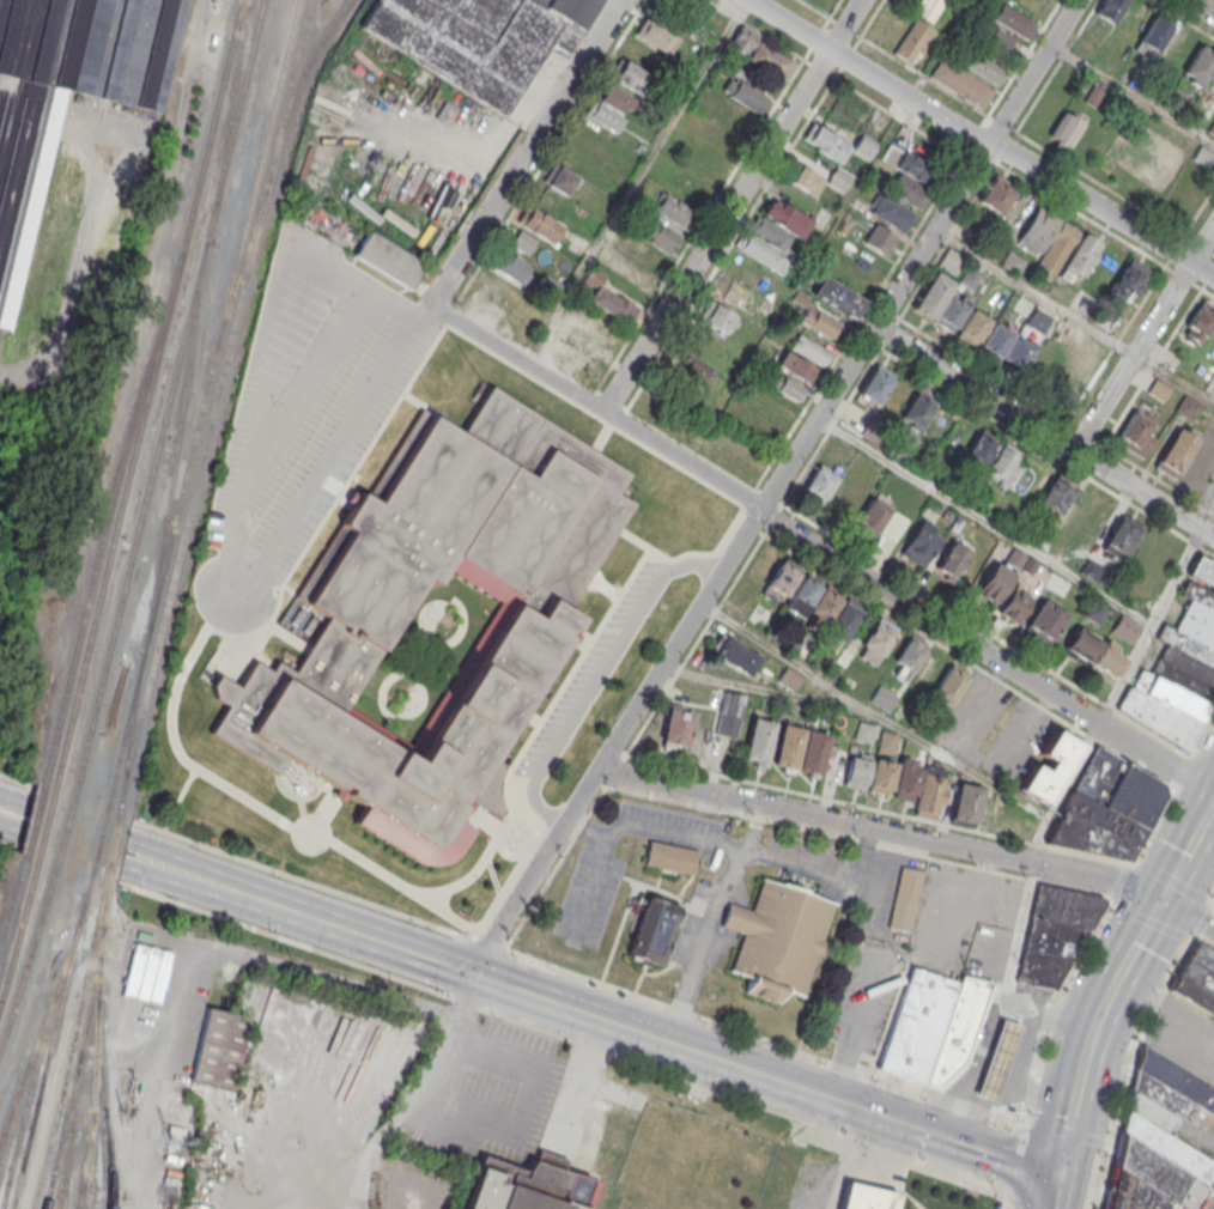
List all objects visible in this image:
road: (1201, 7)
building: (1110, 10)
building: (1012, 22)
road: (844, 24)
building: (1154, 36)
building: (658, 37)
building: (478, 38)
building: (913, 41)
building: (758, 53)
building: (983, 67)
building: (1198, 67)
building: (635, 68)
road: (1032, 72)
road: (868, 73)
building: (961, 83)
railway: (297, 86)
railway: (285, 95)
building: (745, 95)
railway: (229, 102)
building: (612, 108)
building: (844, 109)
building: (1212, 128)
building: (1064, 130)
building: (826, 142)
building: (862, 148)
road: (527, 153)
building: (1202, 157)
building: (704, 162)
building: (908, 175)
building: (817, 180)
building: (559, 181)
road: (633, 181)
building: (688, 184)
building: (996, 194)
road: (1101, 208)
building: (672, 211)
building: (17, 219)
building: (538, 224)
road: (716, 230)
road: (930, 235)
building: (880, 241)
building: (766, 242)
building: (1056, 245)
building: (645, 255)
building: (388, 260)
building: (951, 260)
building: (1012, 263)
building: (512, 267)
railway: (238, 268)
building: (1127, 280)
road: (1032, 293)
building: (837, 297)
building: (608, 299)
building: (940, 302)
road: (290, 306)
building: (721, 309)
building: (1198, 322)
building: (818, 323)
railway: (218, 328)
road: (1142, 336)
building: (809, 350)
building: (1018, 353)
building: (1080, 354)
building: (794, 366)
building: (693, 373)
building: (875, 384)
building: (783, 385)
railway: (147, 389)
building: (1158, 390)
railway: (168, 391)
building: (767, 405)
road: (596, 407)
building: (1188, 408)
building: (915, 413)
road: (1044, 432)
railway: (176, 433)
building: (1135, 433)
building: (978, 451)
building: (1174, 454)
building: (1000, 464)
building: (819, 485)
railway: (192, 494)
building: (1054, 498)
railway: (107, 510)
building: (881, 521)
road: (984, 522)
building: (463, 529)
building: (1119, 539)
building: (919, 543)
road: (233, 546)
road: (735, 547)
building: (952, 559)
building: (779, 582)
building: (993, 583)
building: (1014, 602)
building: (821, 609)
building: (759, 614)
building: (1045, 619)
road: (706, 621)
road: (1152, 626)
building: (1125, 630)
building: (876, 640)
road: (987, 652)
building: (1094, 652)
building: (733, 654)
building: (910, 654)
building: (928, 672)
building: (1178, 673)
road: (599, 675)
building: (788, 679)
building: (949, 686)
road: (815, 695)
building: (729, 713)
building: (281, 718)
railway: (123, 725)
railway: (129, 727)
building: (676, 727)
parking lot: (1025, 729)
building: (758, 741)
building: (787, 746)
building: (812, 751)
road: (936, 751)
building: (1049, 766)
building: (856, 768)
building: (881, 776)
building: (906, 779)
building: (931, 791)
road: (1063, 792)
railway: (119, 801)
building: (965, 804)
building: (1105, 808)
railway: (36, 814)
railway: (47, 818)
building: (1001, 818)
railway: (65, 824)
road: (755, 827)
road: (57, 831)
road: (881, 831)
railway: (98, 834)
railway: (110, 838)
building: (669, 857)
road: (740, 857)
road: (535, 871)
railway: (105, 873)
road: (831, 875)
parking lot: (722, 881)
building: (904, 898)
traffic signals: (1164, 899)
railway: (13, 904)
road: (295, 912)
road: (1189, 915)
parking lot: (964, 921)
railway: (19, 928)
building: (651, 931)
building: (1054, 932)
building: (777, 937)
railway: (28, 954)
road: (985, 968)
road: (290, 970)
road: (1115, 979)
building: (1196, 979)
building: (132, 989)
railway: (43, 1019)
building: (916, 1023)
building: (955, 1025)
road: (988, 1026)
road: (851, 1027)
road: (1160, 1027)
building: (334, 1033)
building: (368, 1037)
building: (284, 1038)
railway: (49, 1041)
railway: (68, 1044)
railway: (93, 1044)
road: (680, 1045)
building: (214, 1047)
road: (1213, 1055)
building: (360, 1058)
building: (997, 1062)
building: (312, 1063)
railway: (74, 1068)
road: (977, 1073)
building: (350, 1079)
road: (991, 1079)
building: (309, 1088)
road: (1037, 1094)
railway: (25, 1098)
building: (341, 1099)
road: (510, 1101)
railway: (102, 1104)
building: (266, 1107)
building: (292, 1107)
railway: (11, 1111)
railway: (69, 1130)
building: (290, 1130)
building: (328, 1131)
road: (380, 1140)
building: (1159, 1141)
road: (970, 1144)
railway: (84, 1160)
road: (846, 1160)
railway: (62, 1167)
traffic signals: (1055, 1174)
building: (523, 1186)
road: (1050, 1191)
railway: (79, 1197)
building: (866, 1197)

